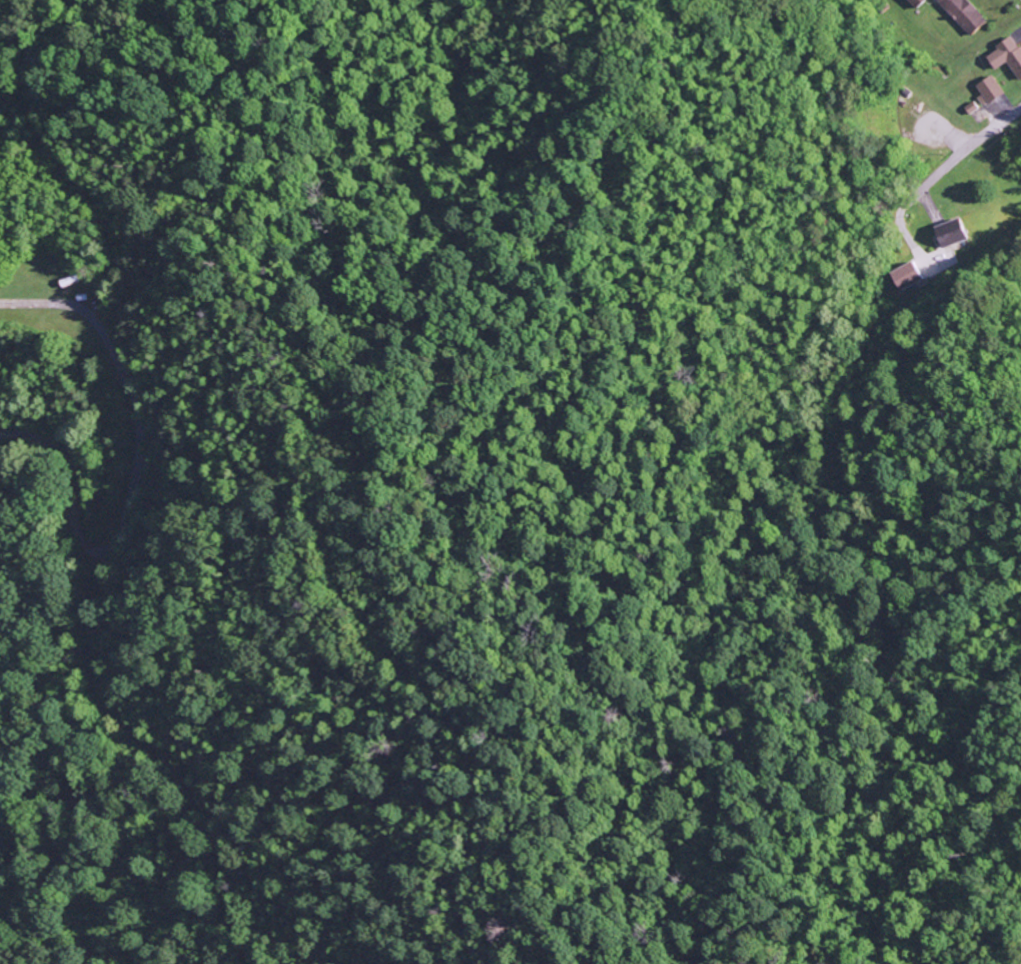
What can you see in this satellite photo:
building: (914, 3)
building: (962, 14)
building: (1006, 56)
building: (987, 90)
road: (965, 150)
building: (950, 233)
building: (906, 276)
road: (122, 514)

